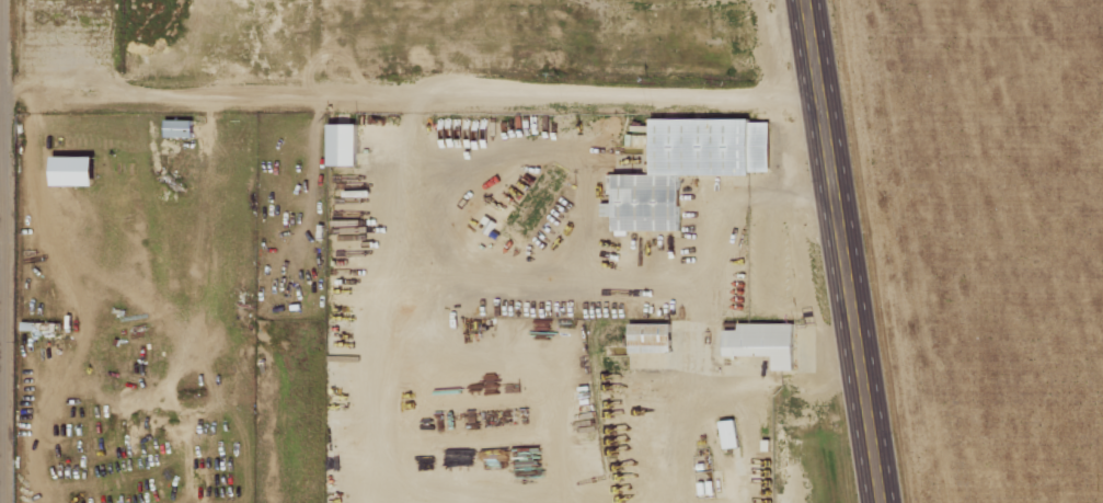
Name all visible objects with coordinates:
building: (179, 128)
building: (344, 142)
building: (682, 167)
road: (839, 251)
building: (650, 336)
building: (760, 341)
building: (728, 433)

